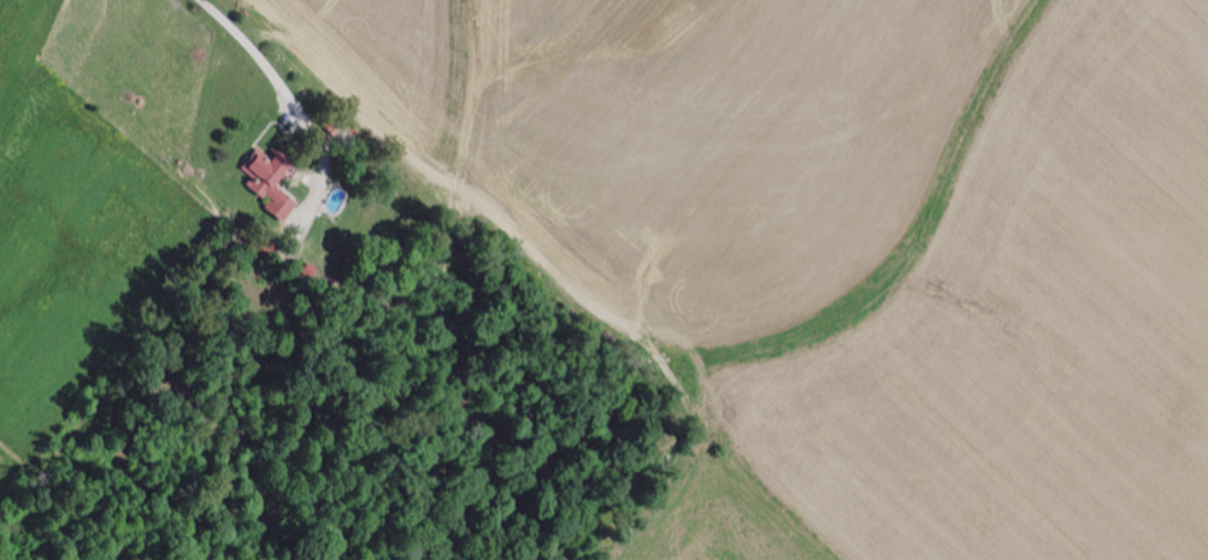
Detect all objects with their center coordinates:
road: (294, 99)
building: (266, 184)

